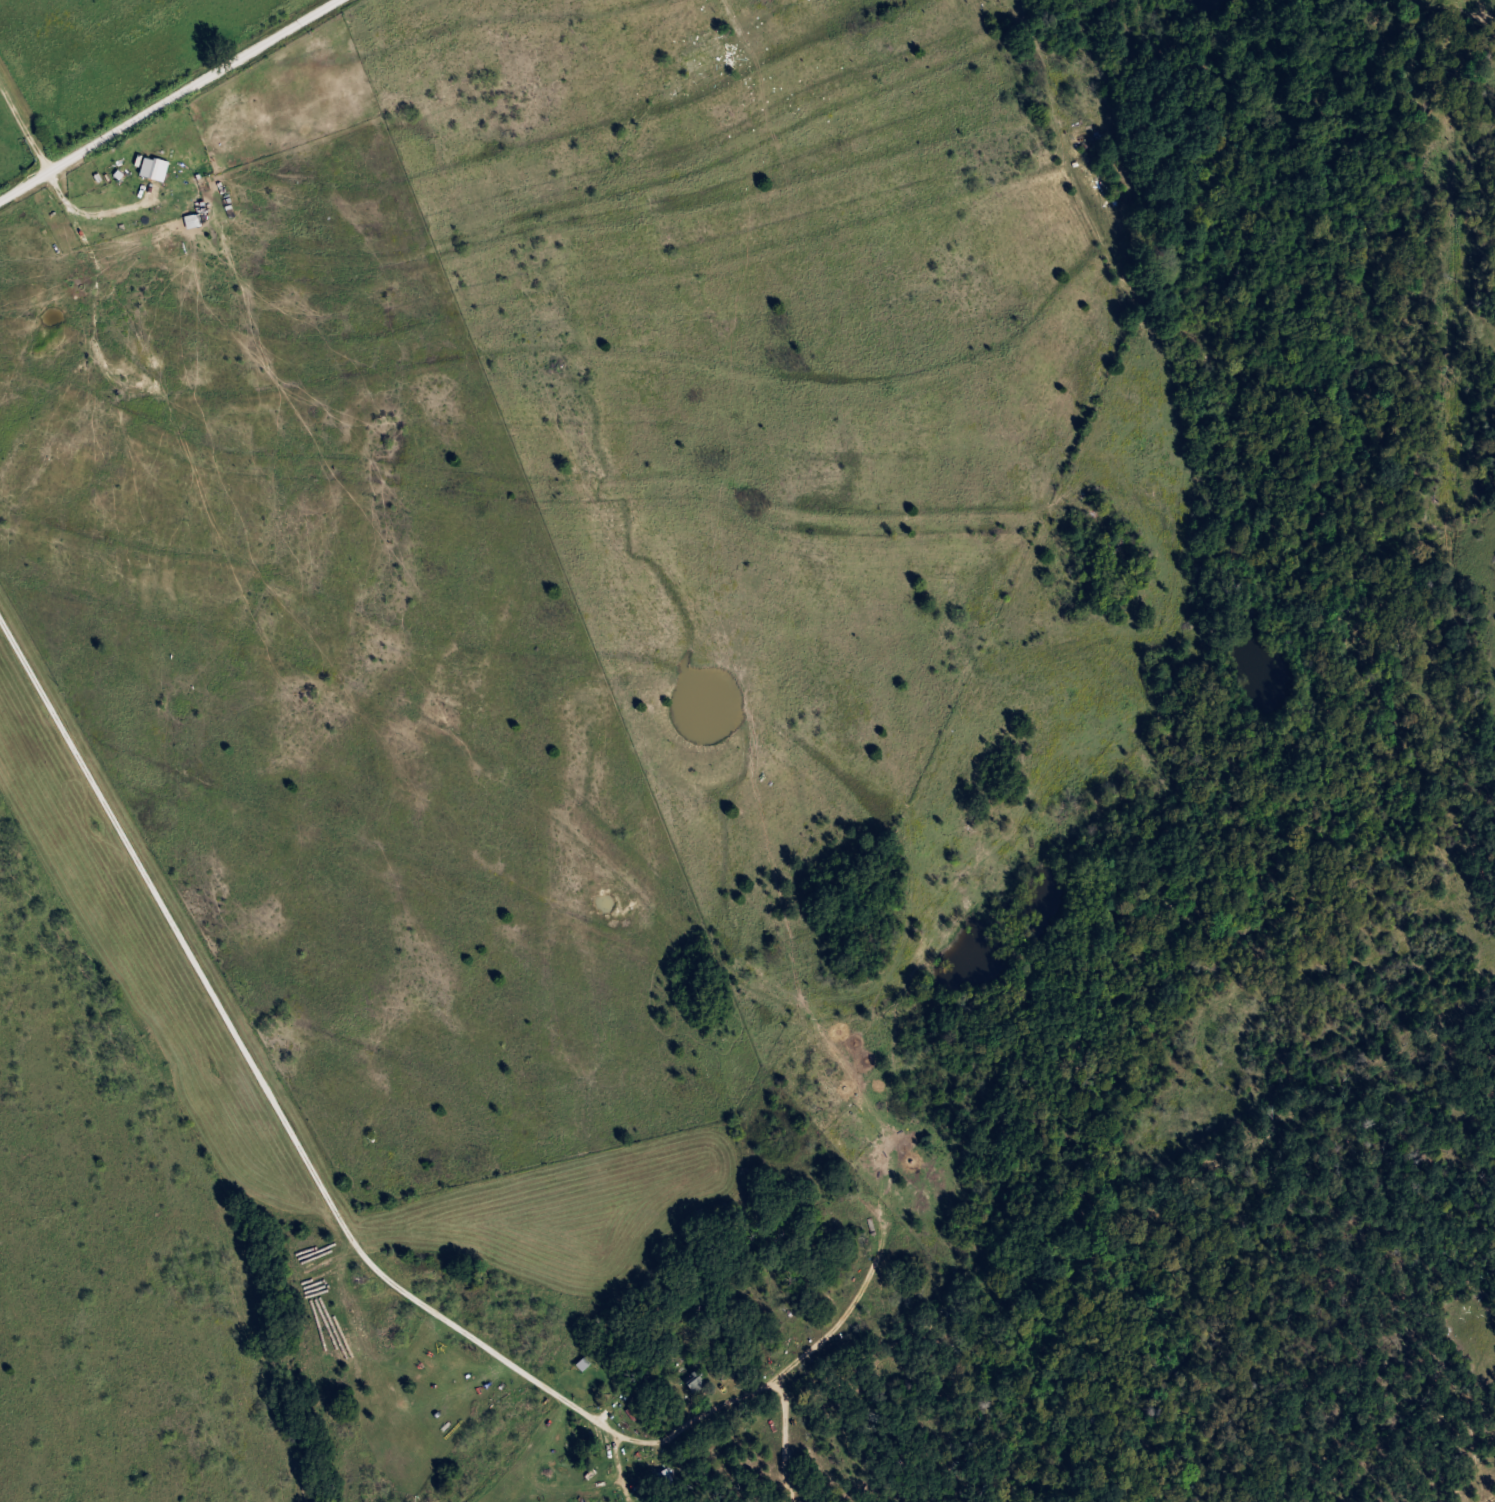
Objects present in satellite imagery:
road: (174, 102)
road: (1078, 156)
building: (157, 170)
building: (195, 223)

